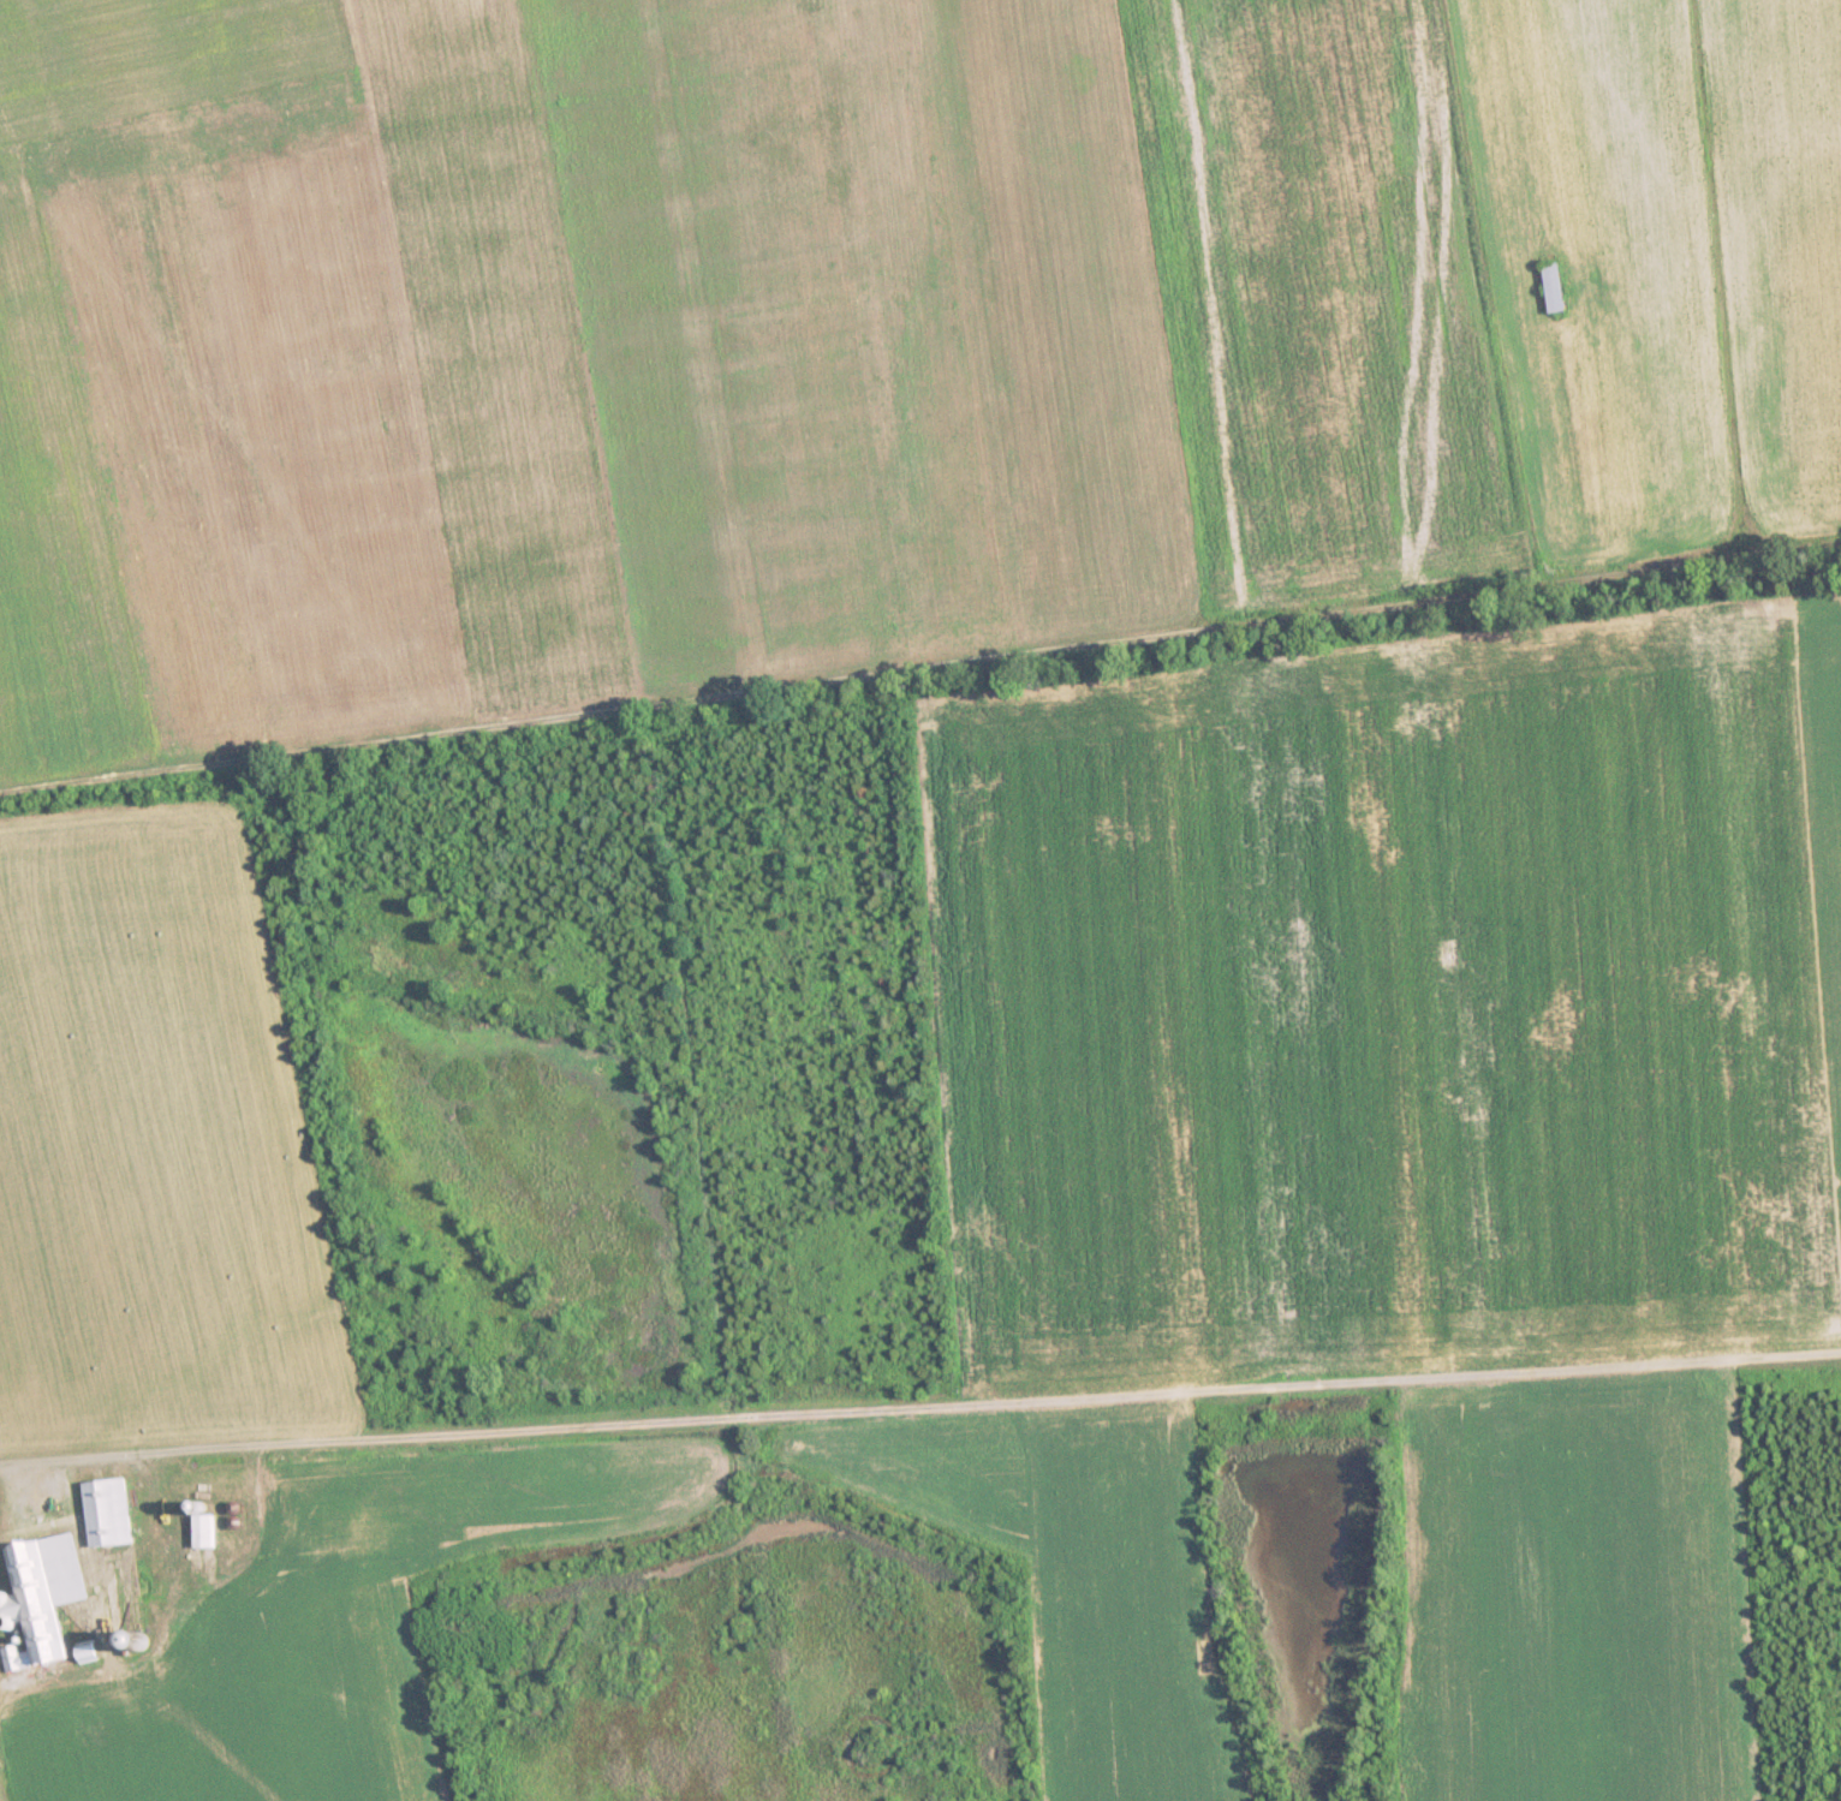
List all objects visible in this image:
building: (1557, 288)
road: (920, 654)
building: (109, 1514)
building: (205, 1526)
building: (41, 1602)

